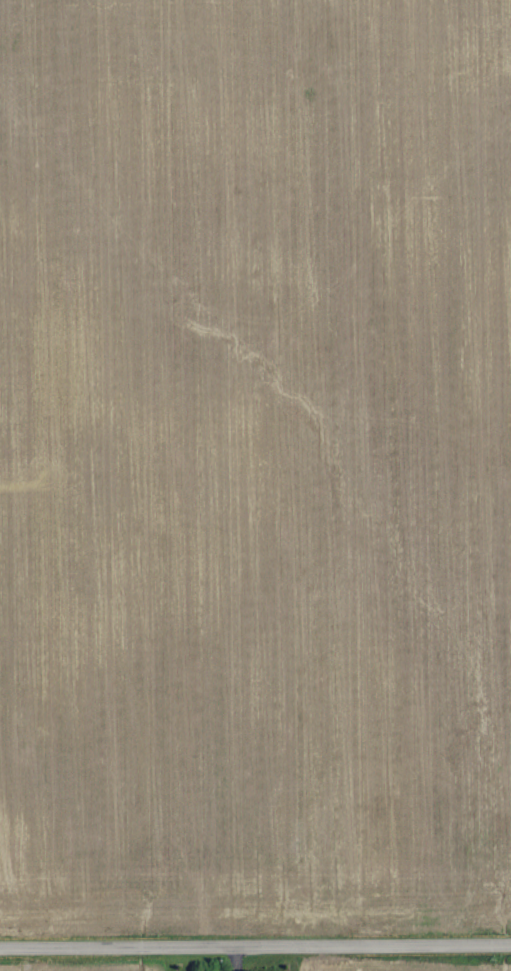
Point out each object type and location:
road: (255, 939)

